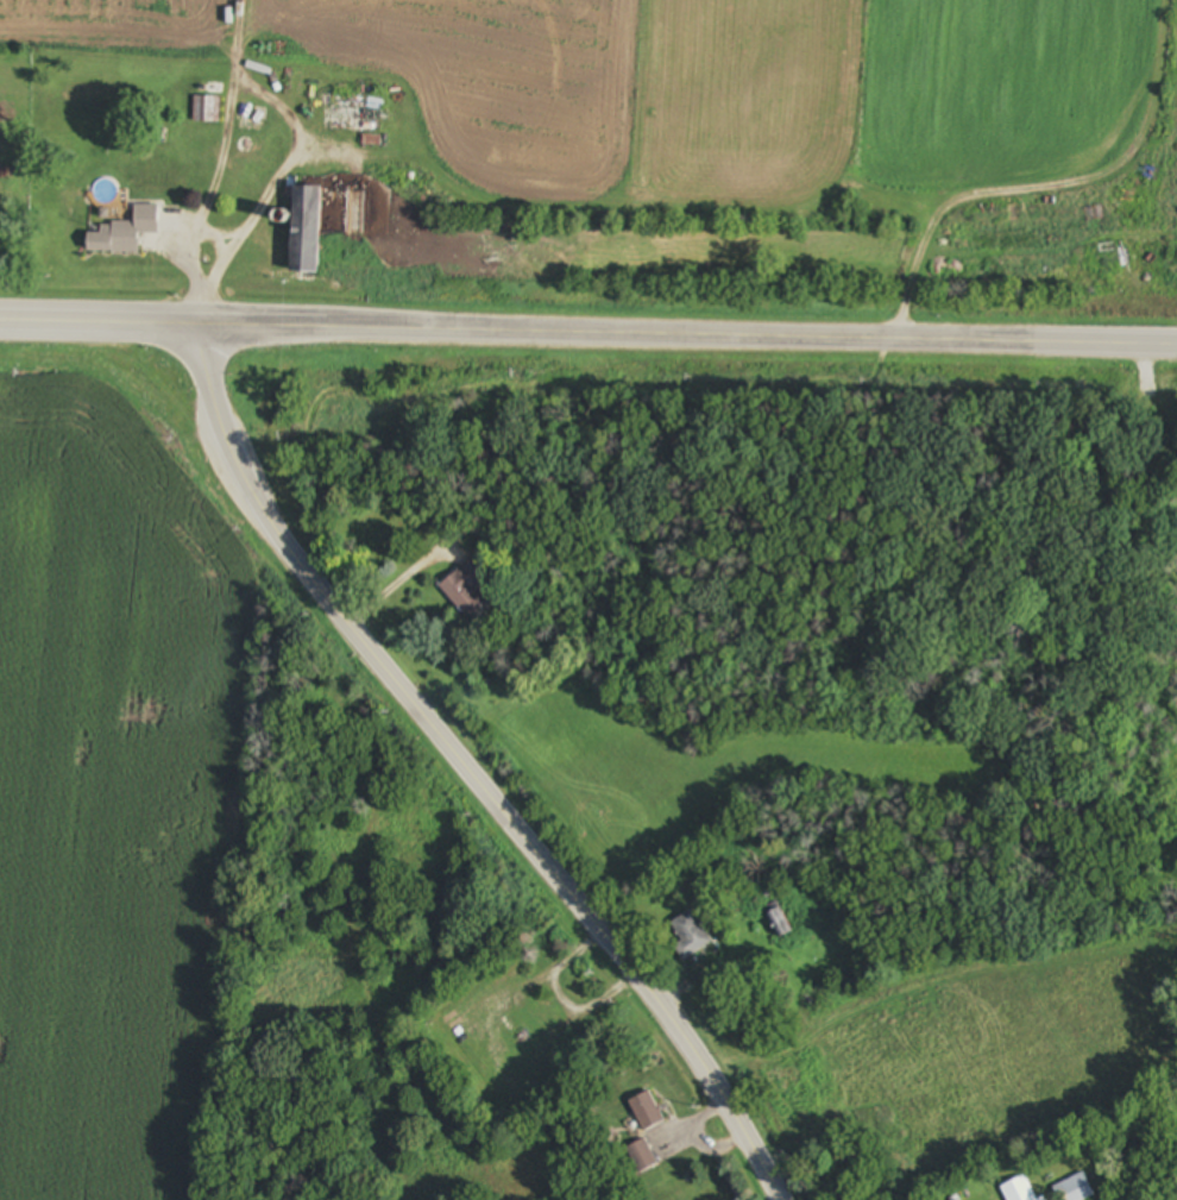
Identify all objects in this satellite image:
road: (278, 103)
building: (355, 114)
building: (308, 228)
building: (126, 232)
road: (81, 323)
road: (669, 335)
road: (396, 586)
building: (466, 589)
road: (465, 765)
building: (780, 924)
building: (691, 936)
building: (647, 1112)
building: (642, 1157)
building: (1075, 1189)
building: (1020, 1190)

